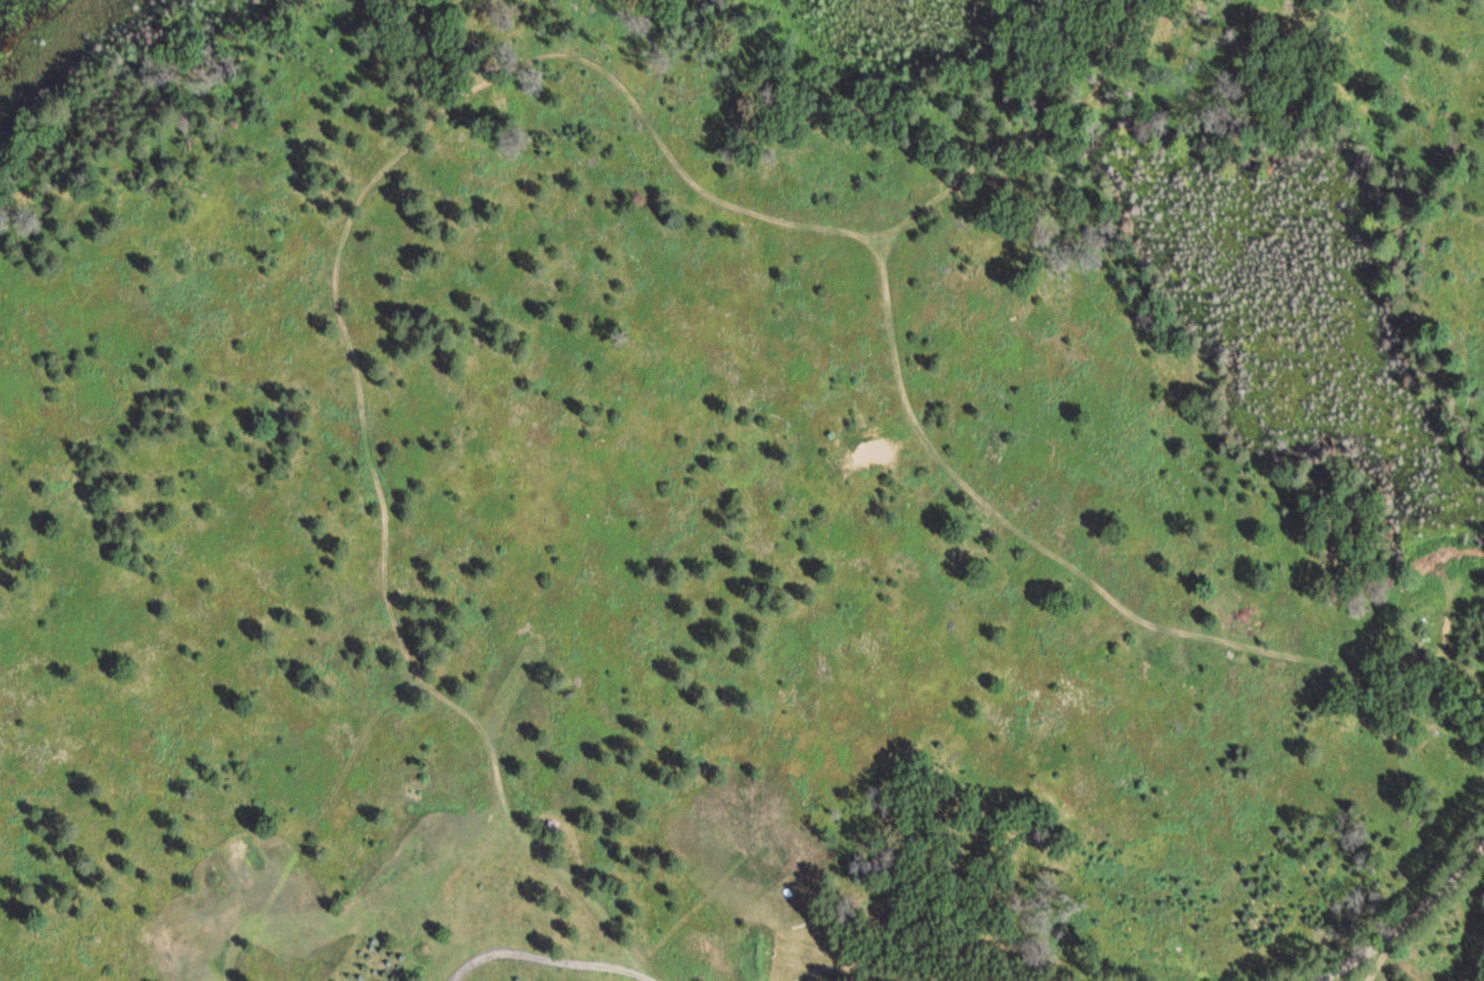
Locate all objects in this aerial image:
road: (1375, 910)

